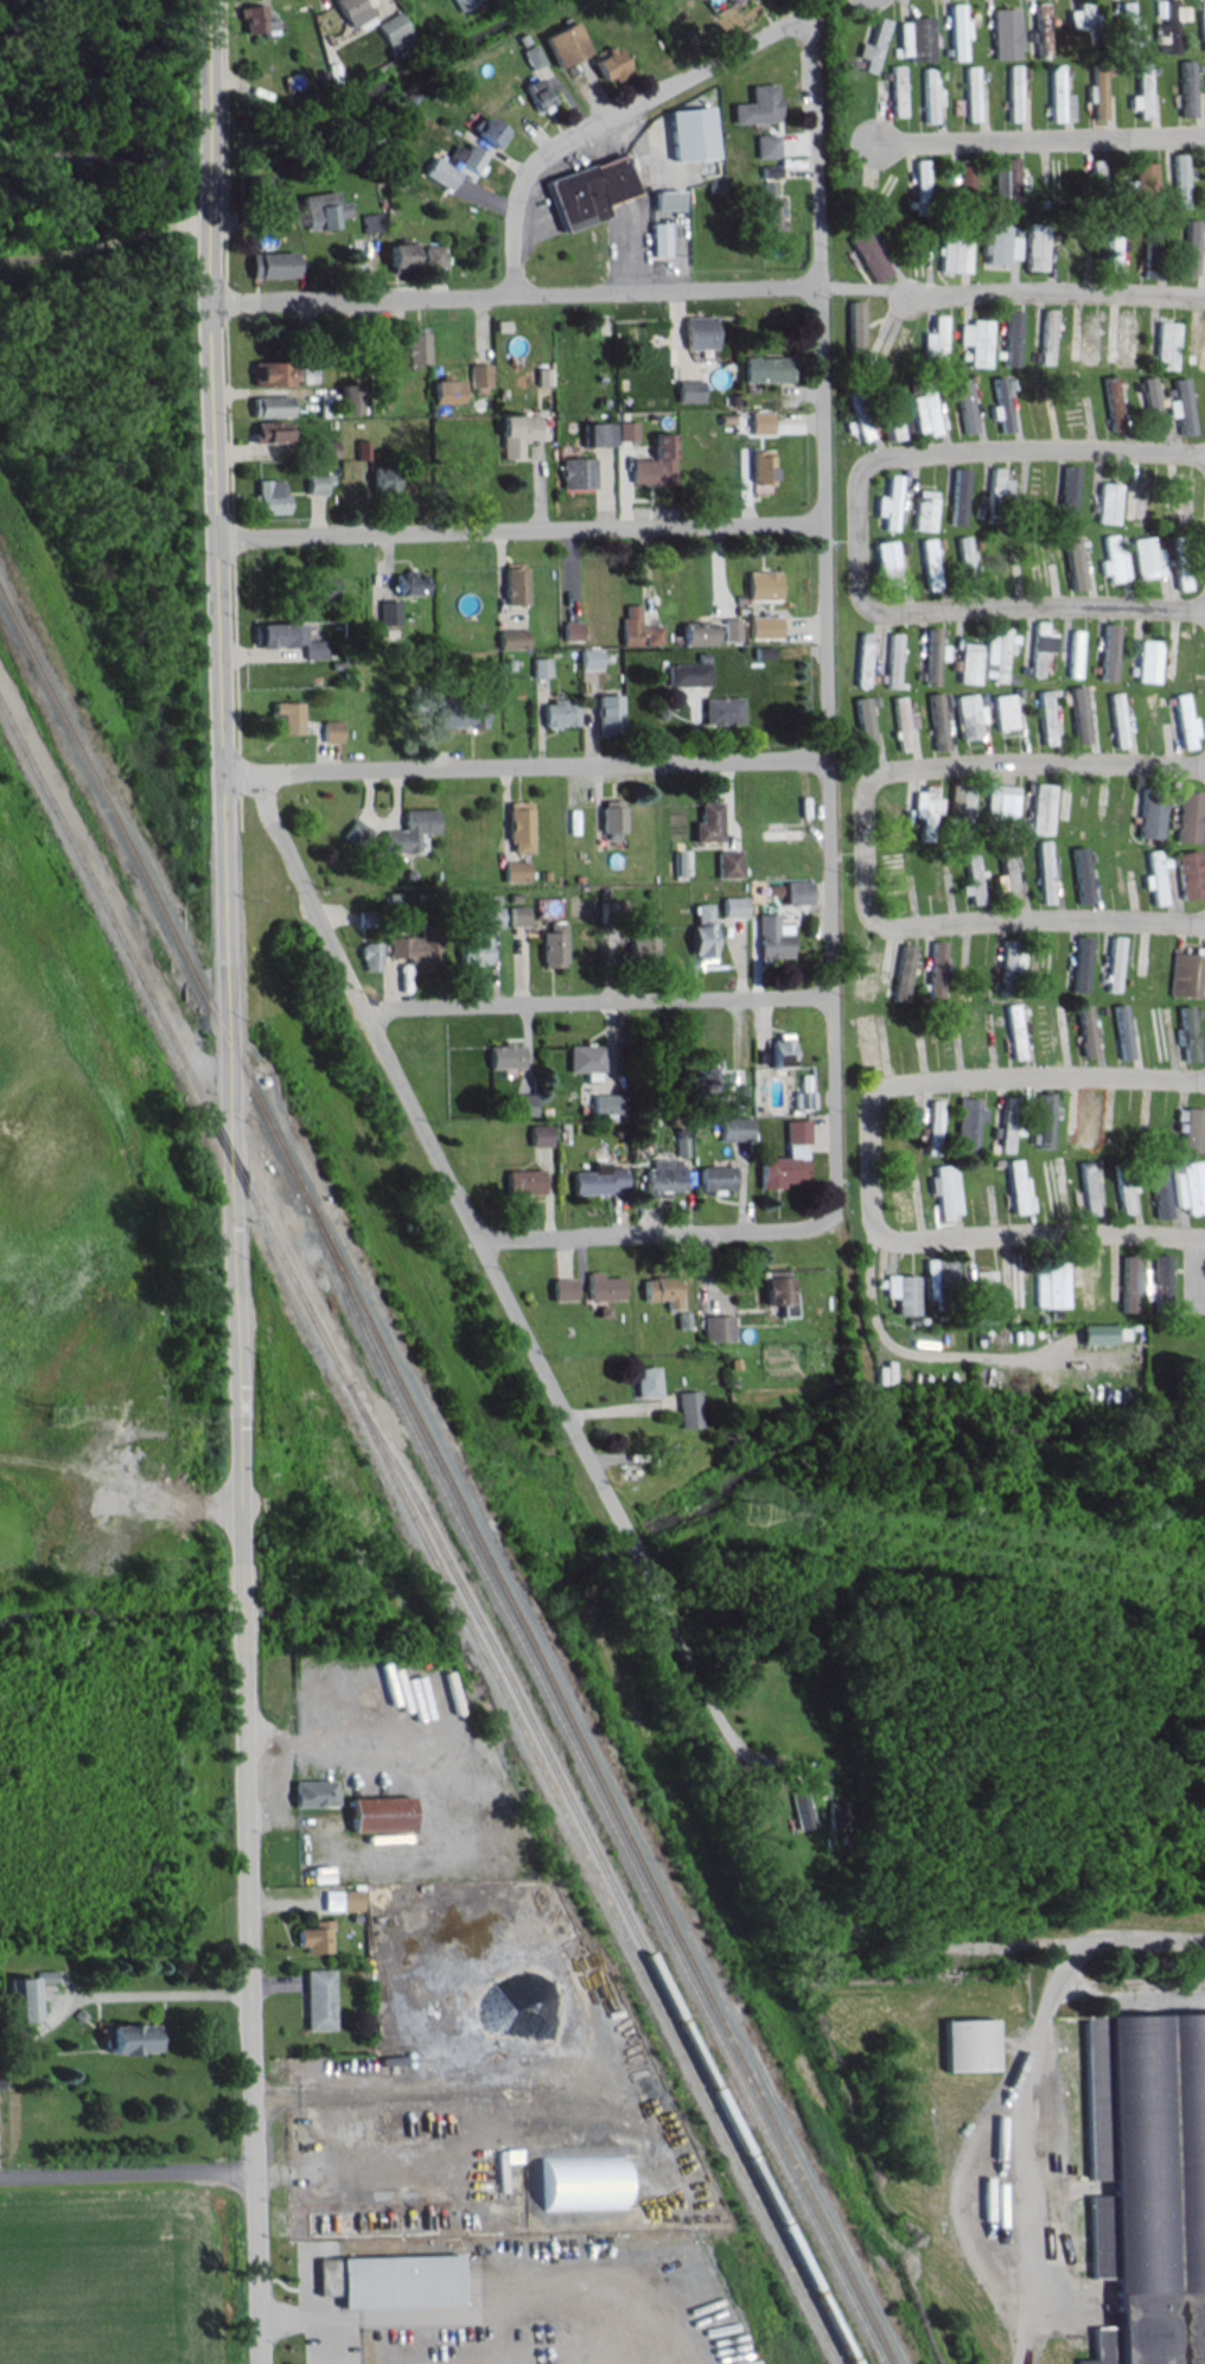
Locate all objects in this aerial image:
building: (253, 15)
road: (209, 58)
road: (608, 115)
road: (1040, 142)
road: (209, 147)
building: (257, 184)
building: (589, 190)
road: (862, 287)
road: (512, 293)
road: (1056, 297)
building: (268, 370)
building: (267, 403)
building: (266, 429)
road: (1058, 448)
building: (266, 493)
road: (518, 530)
road: (854, 537)
road: (1063, 604)
road: (823, 623)
building: (273, 631)
building: (281, 715)
road: (1000, 762)
road: (523, 763)
road: (223, 869)
road: (999, 919)
road: (597, 1001)
road: (1005, 1077)
road: (879, 1229)
road: (649, 1232)
road: (1076, 1232)
road: (487, 1254)
crop: (75, 1261)
parking lot: (1193, 1273)
building: (1099, 1334)
road: (917, 1353)
building: (1197, 1382)
power tower: (58, 1419)
railway: (445, 1480)
power tower: (754, 1514)
railway: (419, 1535)
road: (240, 1607)
railway: (587, 1785)
building: (311, 1792)
road: (429, 1802)
building: (801, 1809)
building: (377, 1812)
railway: (599, 1869)
building: (350, 1899)
building: (313, 1937)
road: (1019, 1946)
building: (25, 1995)
building: (317, 2001)
road: (247, 2008)
building: (129, 2040)
building: (968, 2044)
road: (332, 2135)
road: (1025, 2150)
road: (126, 2172)
building: (1146, 2179)
building: (387, 2279)
crop: (104, 2283)
road: (410, 2317)
road: (306, 2319)

